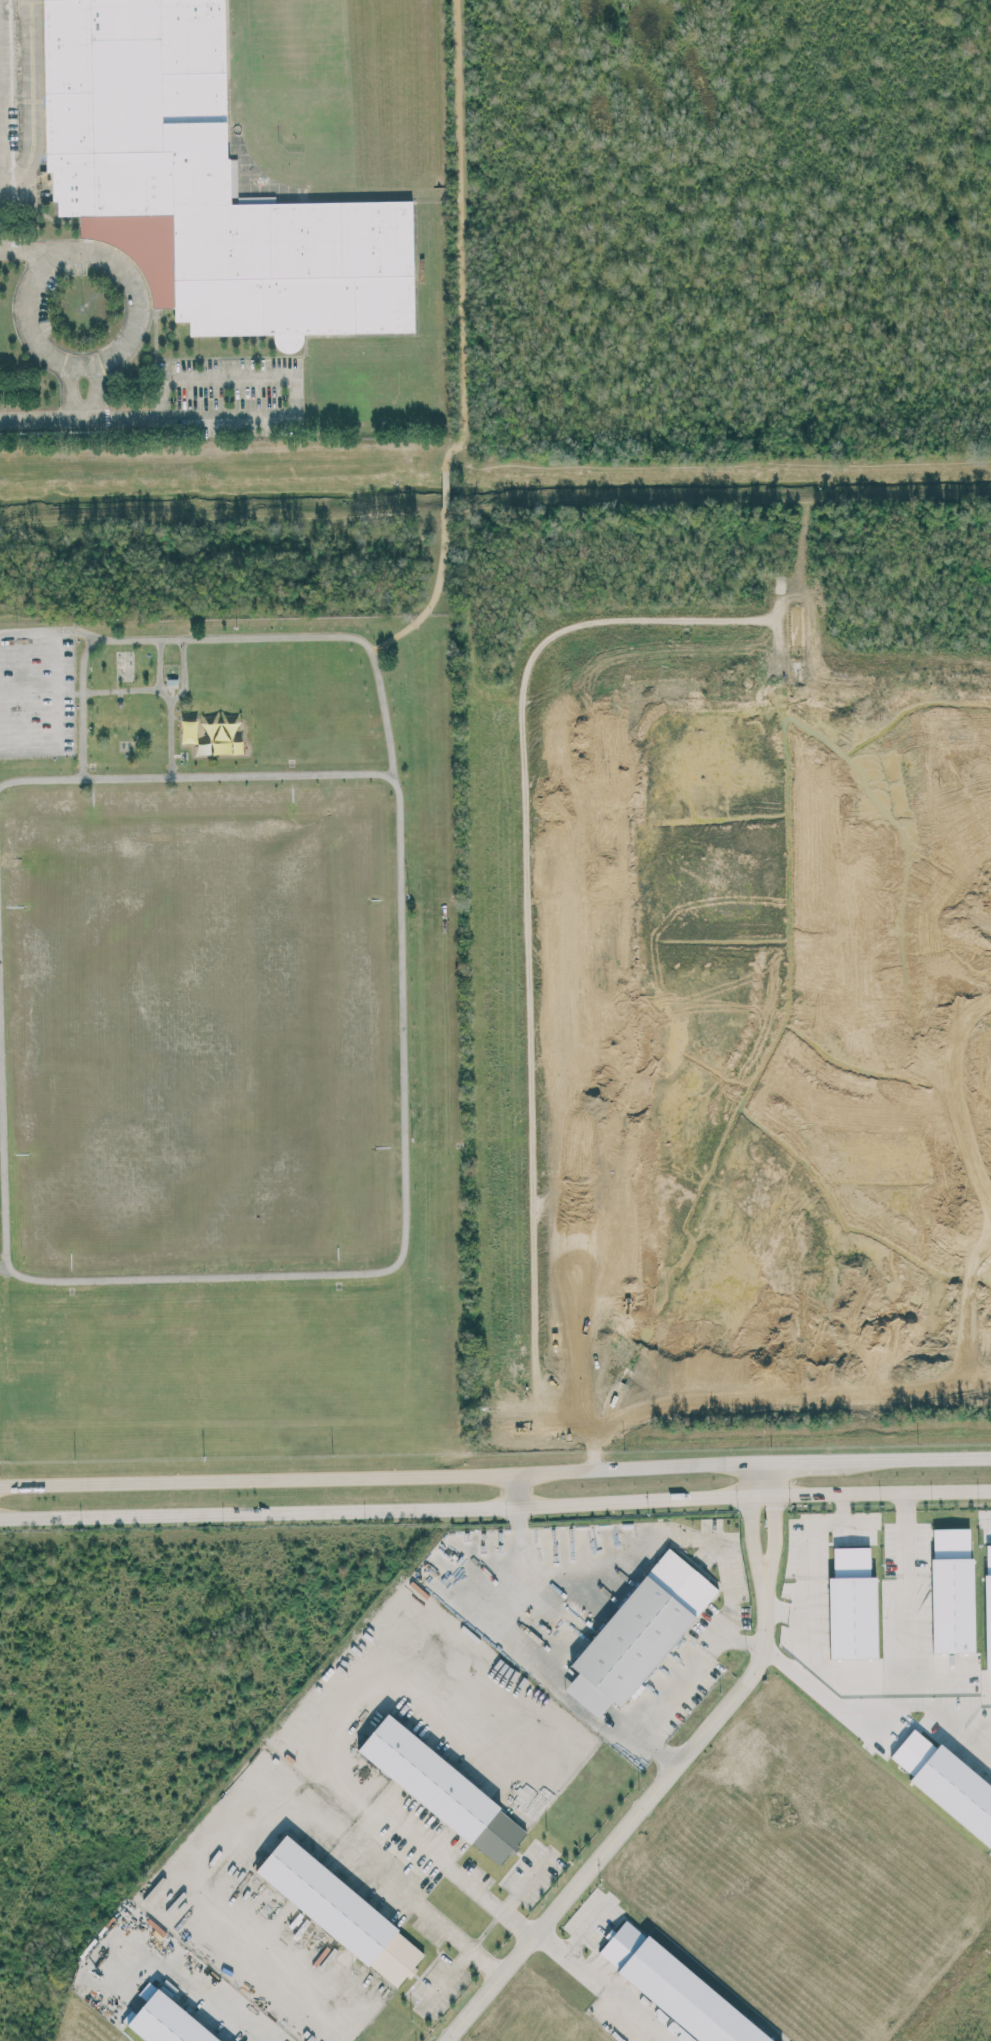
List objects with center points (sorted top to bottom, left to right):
road: (34, 114)
building: (202, 182)
road: (460, 236)
road: (81, 244)
road: (25, 253)
flagpole: (82, 307)
road: (229, 373)
parking lot: (233, 385)
road: (72, 391)
road: (96, 391)
road: (148, 415)
road: (717, 461)
road: (444, 488)
road: (435, 593)
road: (227, 635)
road: (158, 663)
road: (183, 671)
road: (56, 690)
road: (164, 693)
building: (189, 731)
road: (401, 1022)
road: (2, 1174)
road: (495, 1474)
road: (758, 1477)
road: (519, 1490)
road: (759, 1494)
road: (495, 1506)
road: (815, 1523)
road: (905, 1534)
road: (588, 1573)
building: (952, 1589)
building: (988, 1602)
building: (852, 1605)
road: (803, 1609)
road: (908, 1620)
building: (639, 1633)
road: (740, 1639)
road: (705, 1645)
road: (548, 1681)
road: (986, 1698)
road: (862, 1703)
road: (643, 1740)
building: (947, 1782)
building: (442, 1787)
road: (631, 1816)
road: (380, 1842)
road: (449, 1868)
road: (527, 1880)
road: (418, 1905)
building: (340, 1907)
road: (585, 1928)
road: (570, 1959)
road: (442, 1980)
road: (185, 1983)
building: (677, 1988)
road: (637, 2013)
building: (166, 2022)

